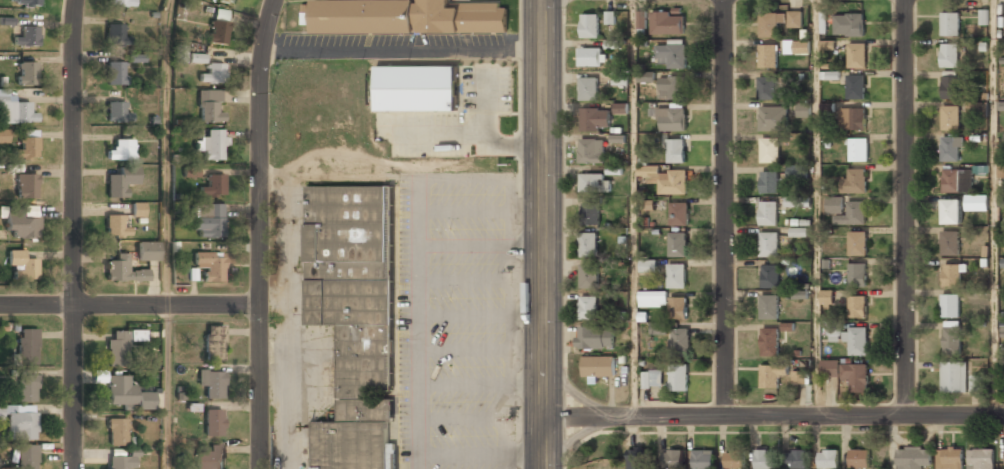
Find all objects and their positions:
building: (221, 0)
building: (230, 1)
building: (24, 2)
building: (121, 3)
building: (408, 16)
building: (610, 17)
building: (795, 18)
building: (642, 19)
building: (668, 23)
building: (770, 23)
building: (849, 23)
building: (950, 23)
building: (589, 25)
building: (218, 27)
building: (114, 33)
building: (27, 37)
building: (827, 45)
building: (796, 46)
building: (179, 53)
building: (672, 54)
building: (856, 54)
building: (768, 55)
building: (949, 55)
building: (590, 56)
building: (137, 58)
building: (196, 58)
building: (26, 73)
building: (115, 73)
building: (213, 73)
building: (646, 76)
building: (620, 77)
building: (670, 86)
building: (766, 86)
building: (855, 86)
building: (951, 86)
building: (416, 88)
building: (588, 88)
building: (1002, 105)
building: (210, 107)
building: (620, 107)
building: (16, 112)
building: (115, 112)
building: (803, 112)
building: (950, 117)
building: (773, 118)
building: (852, 118)
building: (594, 119)
building: (671, 119)
building: (4, 136)
building: (213, 144)
building: (28, 148)
building: (950, 148)
building: (676, 149)
building: (770, 149)
building: (858, 149)
building: (122, 150)
road: (166, 151)
building: (591, 151)
building: (648, 170)
building: (796, 171)
building: (191, 172)
building: (956, 180)
building: (121, 181)
building: (854, 181)
building: (672, 182)
building: (769, 182)
building: (594, 183)
building: (26, 186)
building: (214, 186)
building: (797, 201)
building: (976, 202)
building: (649, 204)
road: (816, 208)
road: (905, 208)
road: (991, 208)
building: (138, 209)
road: (631, 209)
road: (724, 209)
building: (846, 210)
building: (953, 211)
building: (590, 213)
building: (768, 213)
building: (679, 214)
building: (208, 221)
building: (19, 225)
building: (114, 226)
road: (260, 233)
road: (73, 234)
road: (546, 234)
building: (768, 243)
building: (858, 243)
building: (949, 243)
building: (588, 244)
building: (677, 244)
building: (148, 251)
building: (1002, 262)
building: (22, 265)
building: (648, 265)
building: (210, 266)
building: (123, 271)
building: (857, 273)
building: (951, 274)
building: (770, 275)
building: (589, 276)
building: (676, 276)
building: (827, 297)
building: (652, 298)
road: (129, 304)
building: (950, 304)
building: (769, 306)
building: (857, 306)
building: (588, 307)
building: (677, 308)
building: (354, 318)
building: (835, 331)
building: (594, 337)
building: (951, 338)
building: (213, 341)
building: (680, 341)
building: (770, 341)
building: (857, 341)
building: (27, 346)
building: (120, 346)
building: (598, 366)
building: (848, 373)
building: (771, 374)
building: (799, 376)
building: (953, 376)
building: (678, 377)
building: (651, 379)
building: (212, 382)
building: (976, 383)
road: (165, 386)
building: (27, 388)
building: (126, 393)
road: (774, 417)
building: (214, 423)
building: (22, 424)
building: (116, 432)
building: (28, 457)
building: (211, 457)
building: (636, 458)
building: (673, 458)
building: (702, 458)
building: (859, 458)
building: (913, 458)
building: (950, 458)
building: (980, 458)
building: (763, 459)
building: (796, 459)
building: (828, 459)
building: (734, 460)
building: (122, 462)

